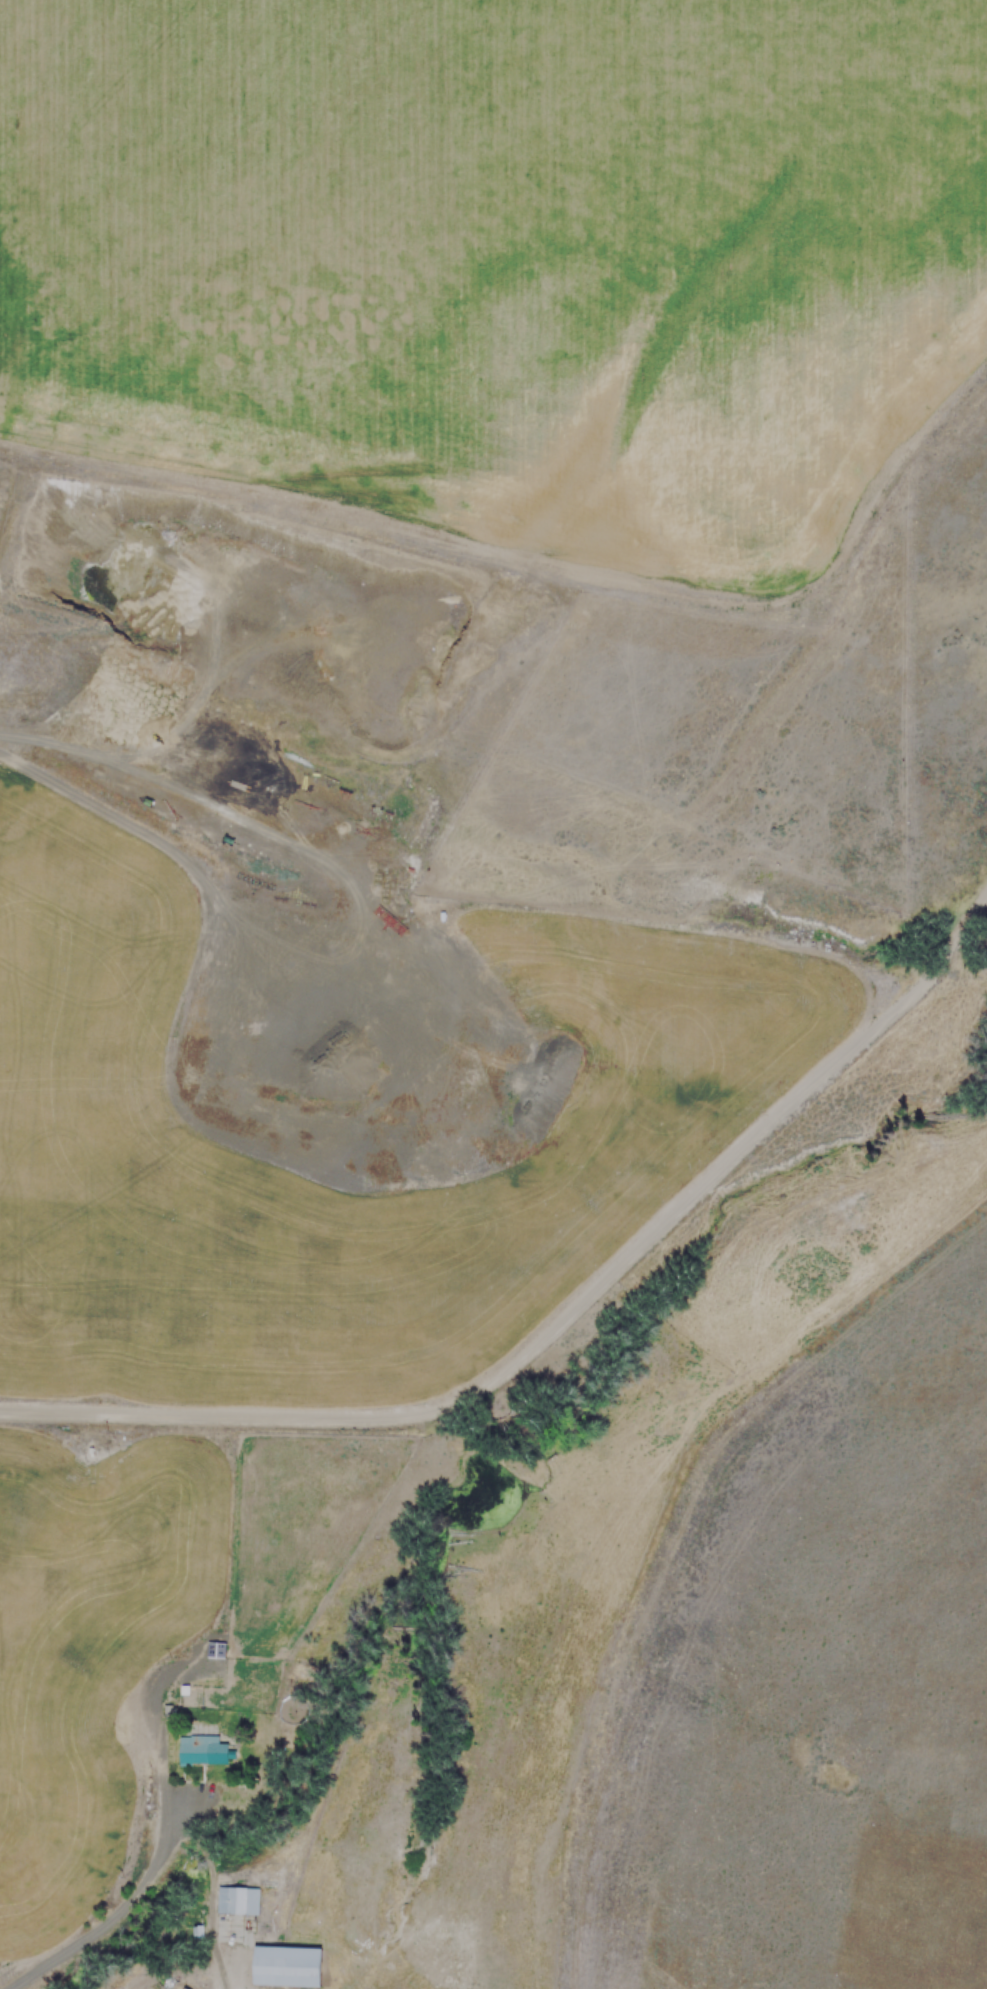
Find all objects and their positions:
building: (200, 1750)
building: (237, 1900)
road: (107, 1905)
building: (197, 1932)
building: (285, 1966)

